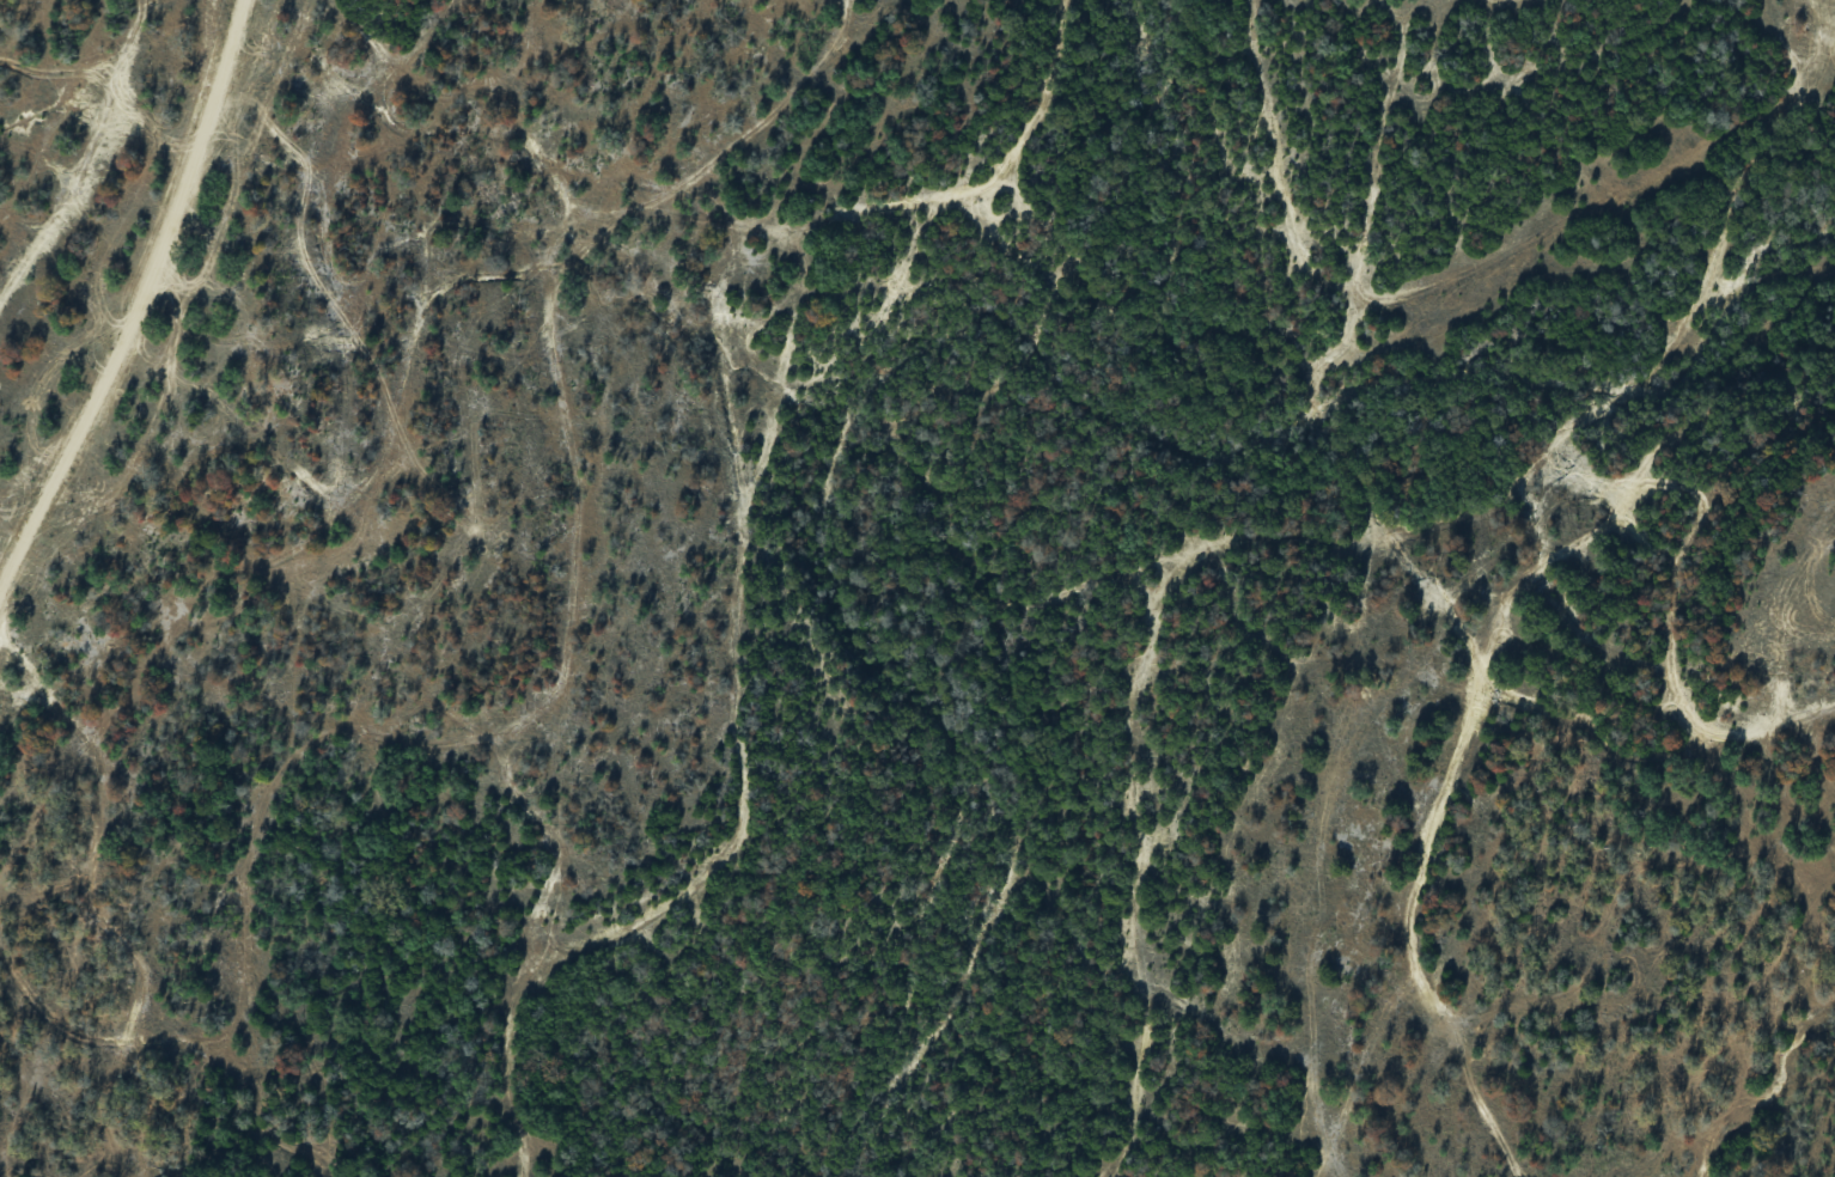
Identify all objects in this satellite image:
road: (147, 309)

